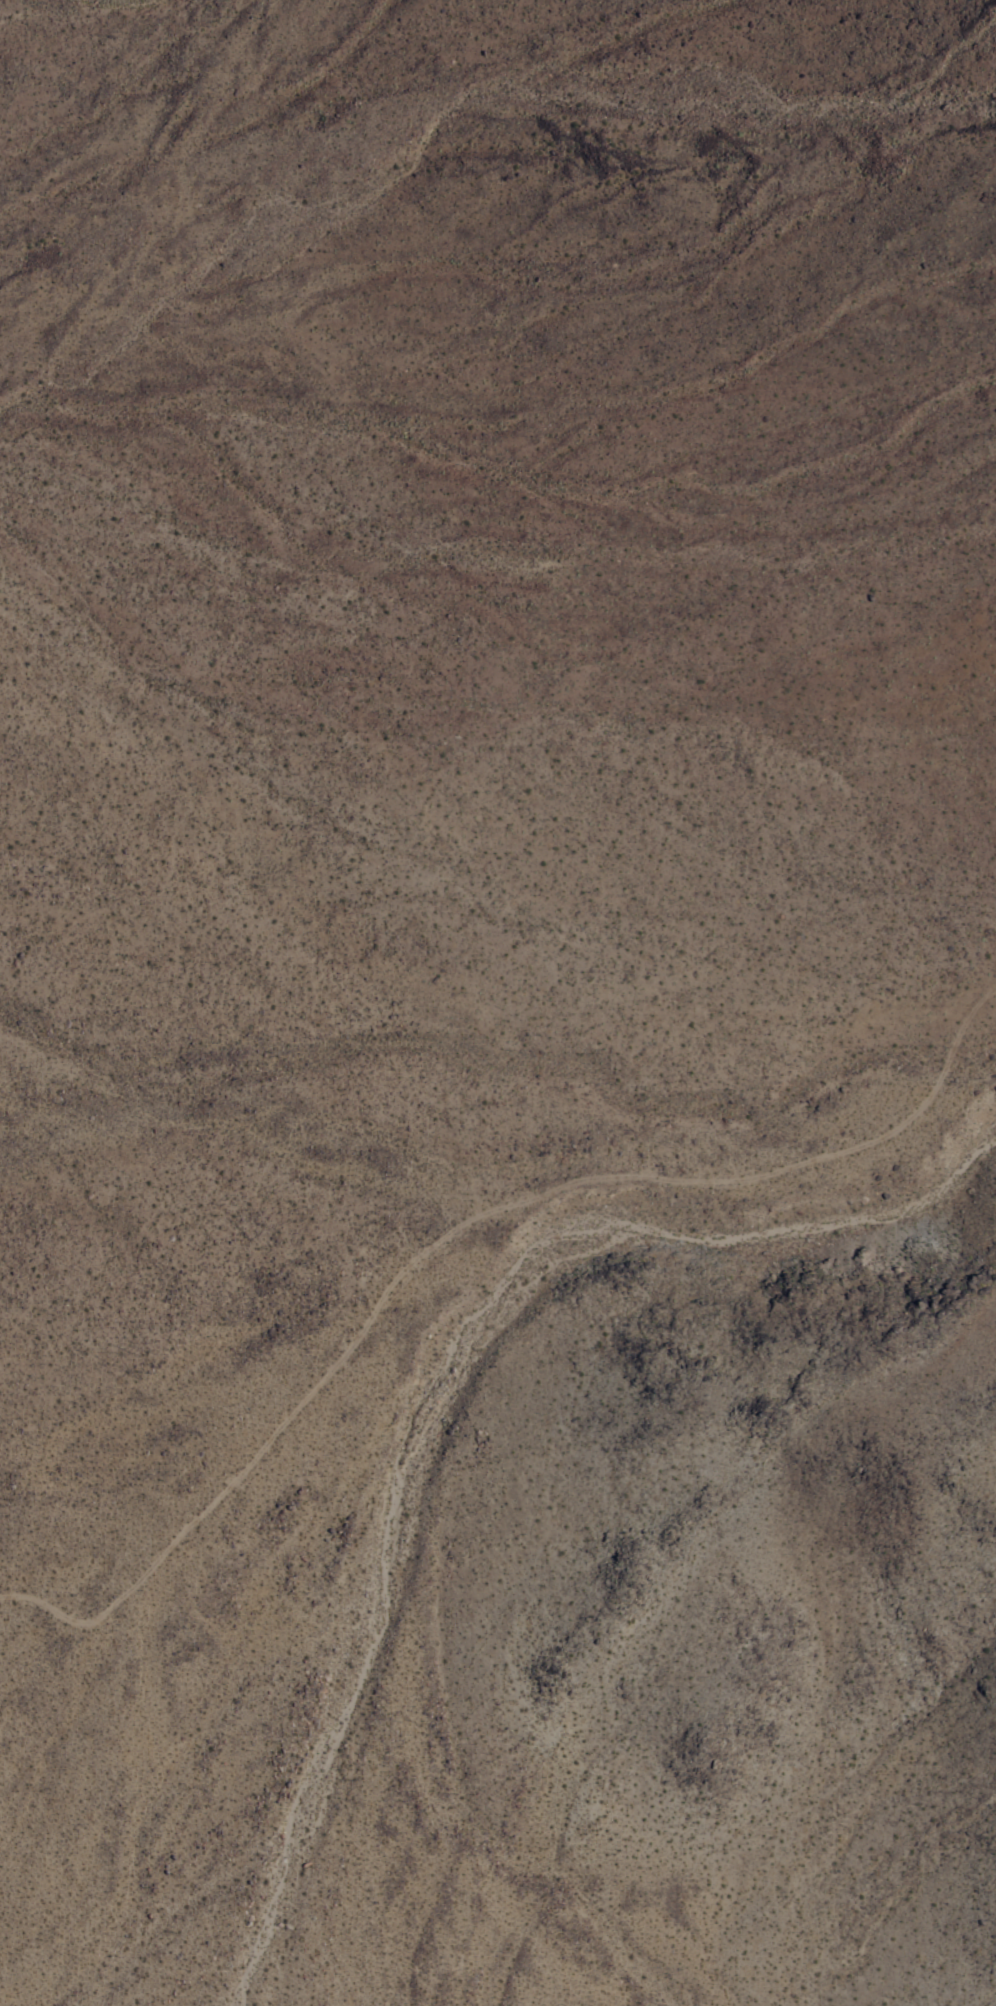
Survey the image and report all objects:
road: (454, 1226)

